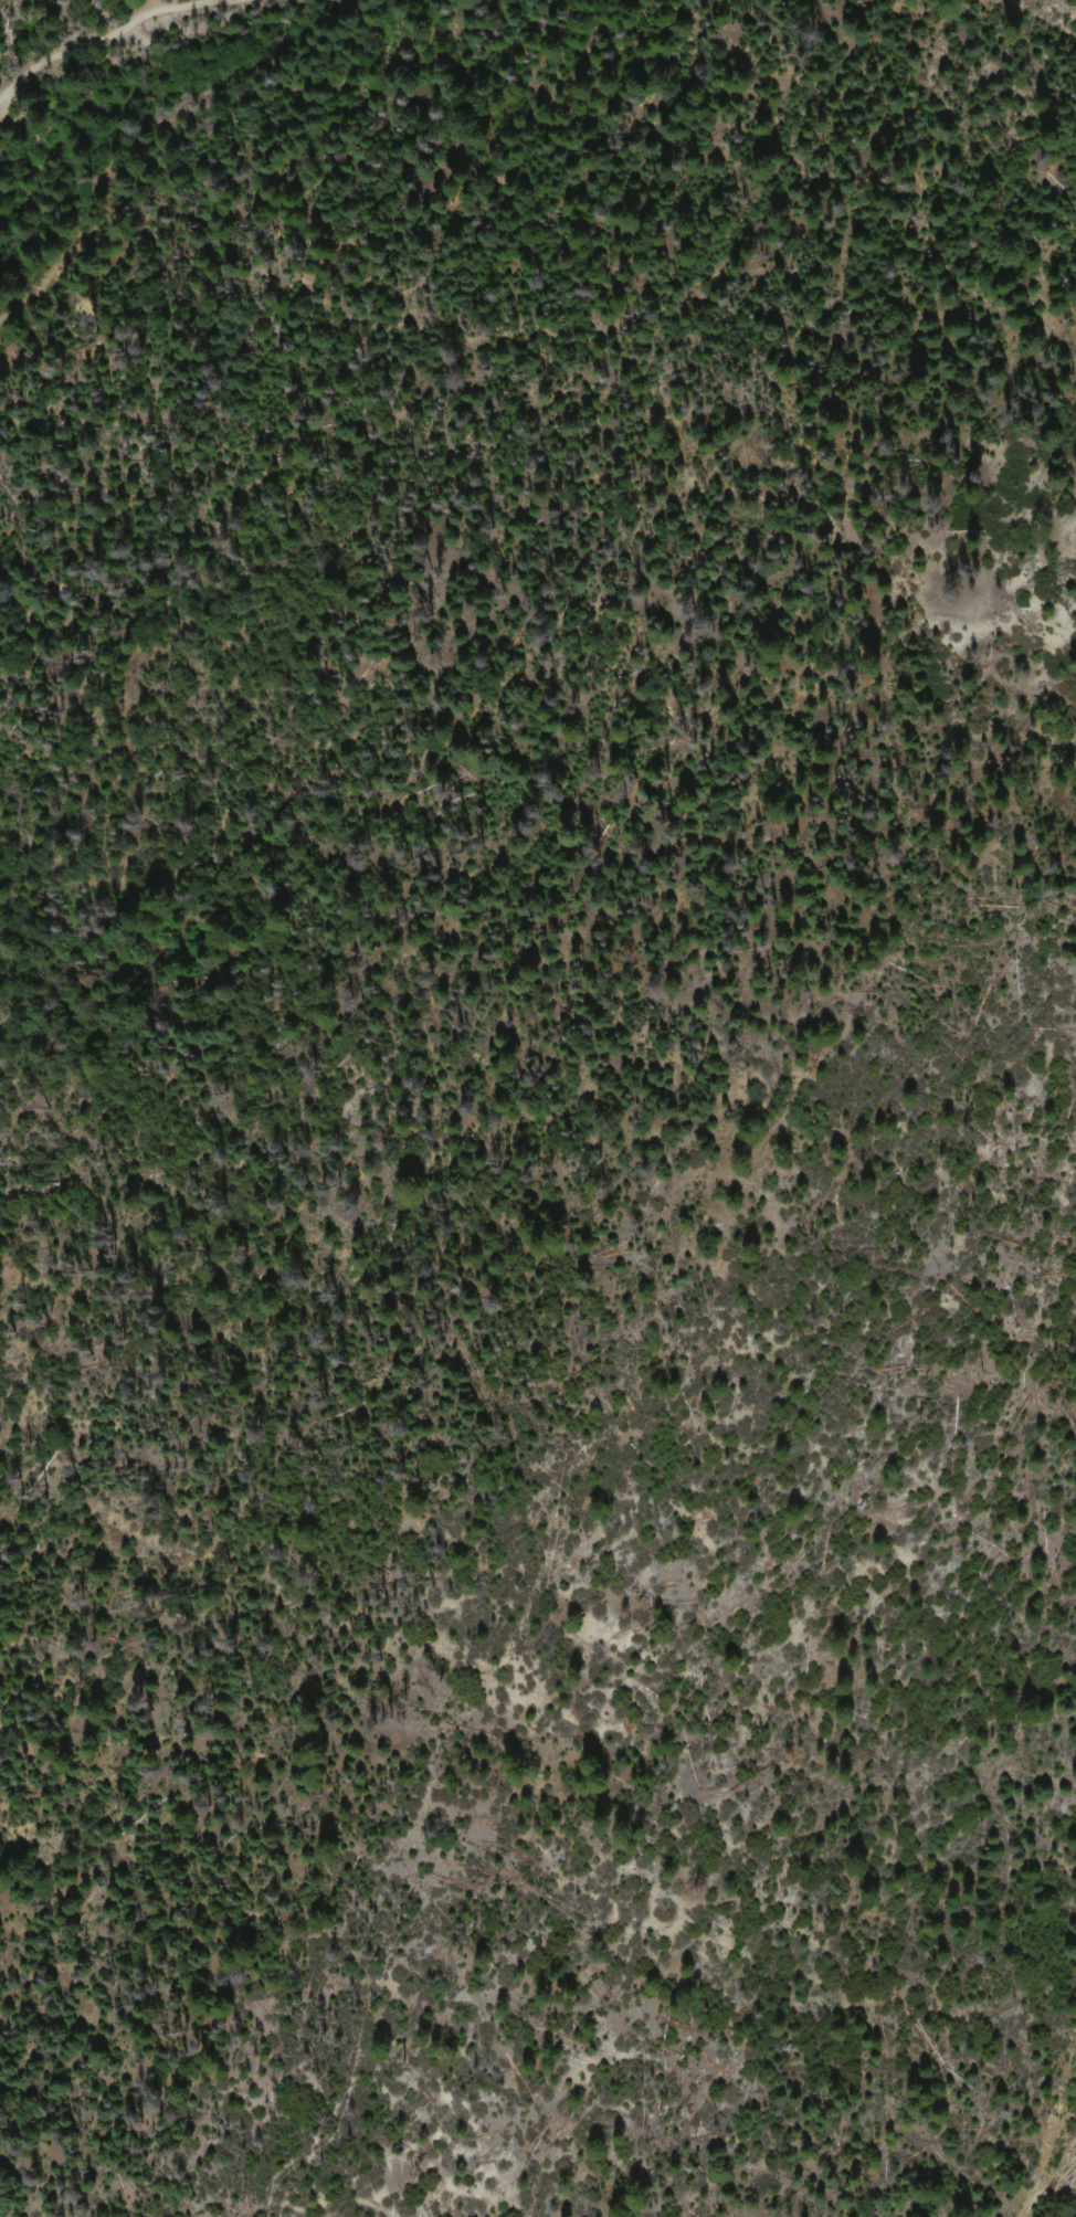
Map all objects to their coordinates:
road: (93, 51)
road: (95, 213)

